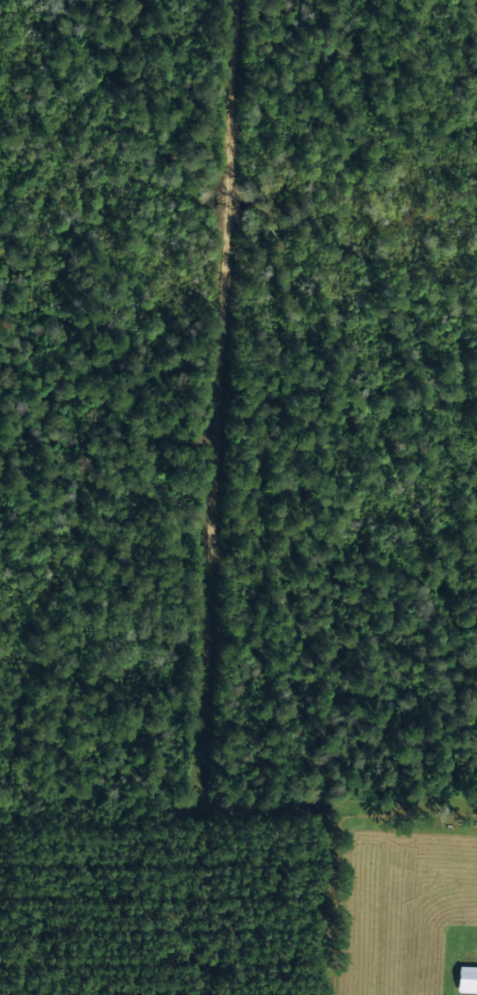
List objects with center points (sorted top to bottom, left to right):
road: (217, 498)

